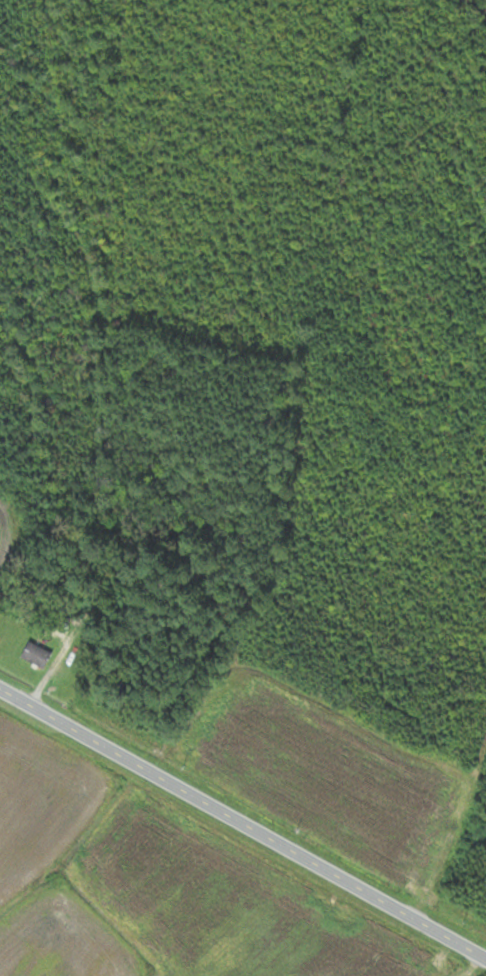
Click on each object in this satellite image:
building: (37, 654)
road: (243, 821)

